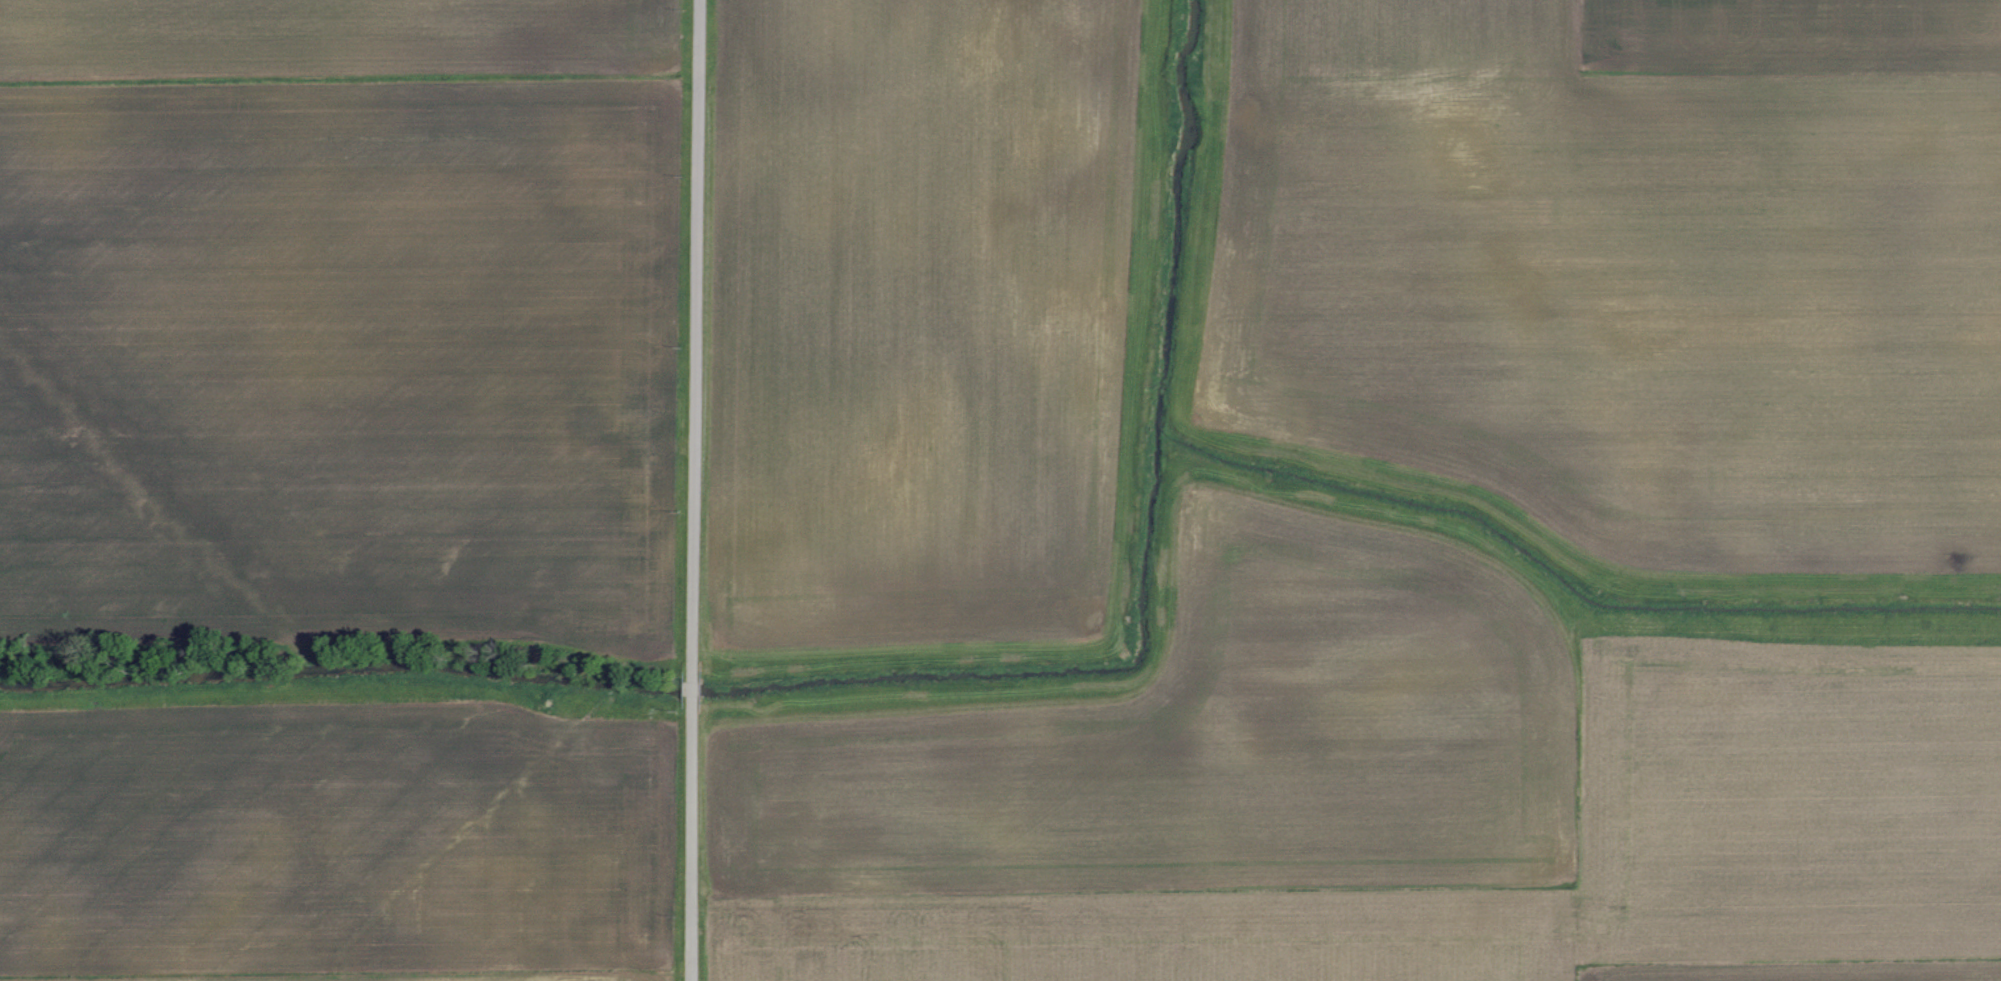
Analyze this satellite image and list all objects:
road: (695, 490)

